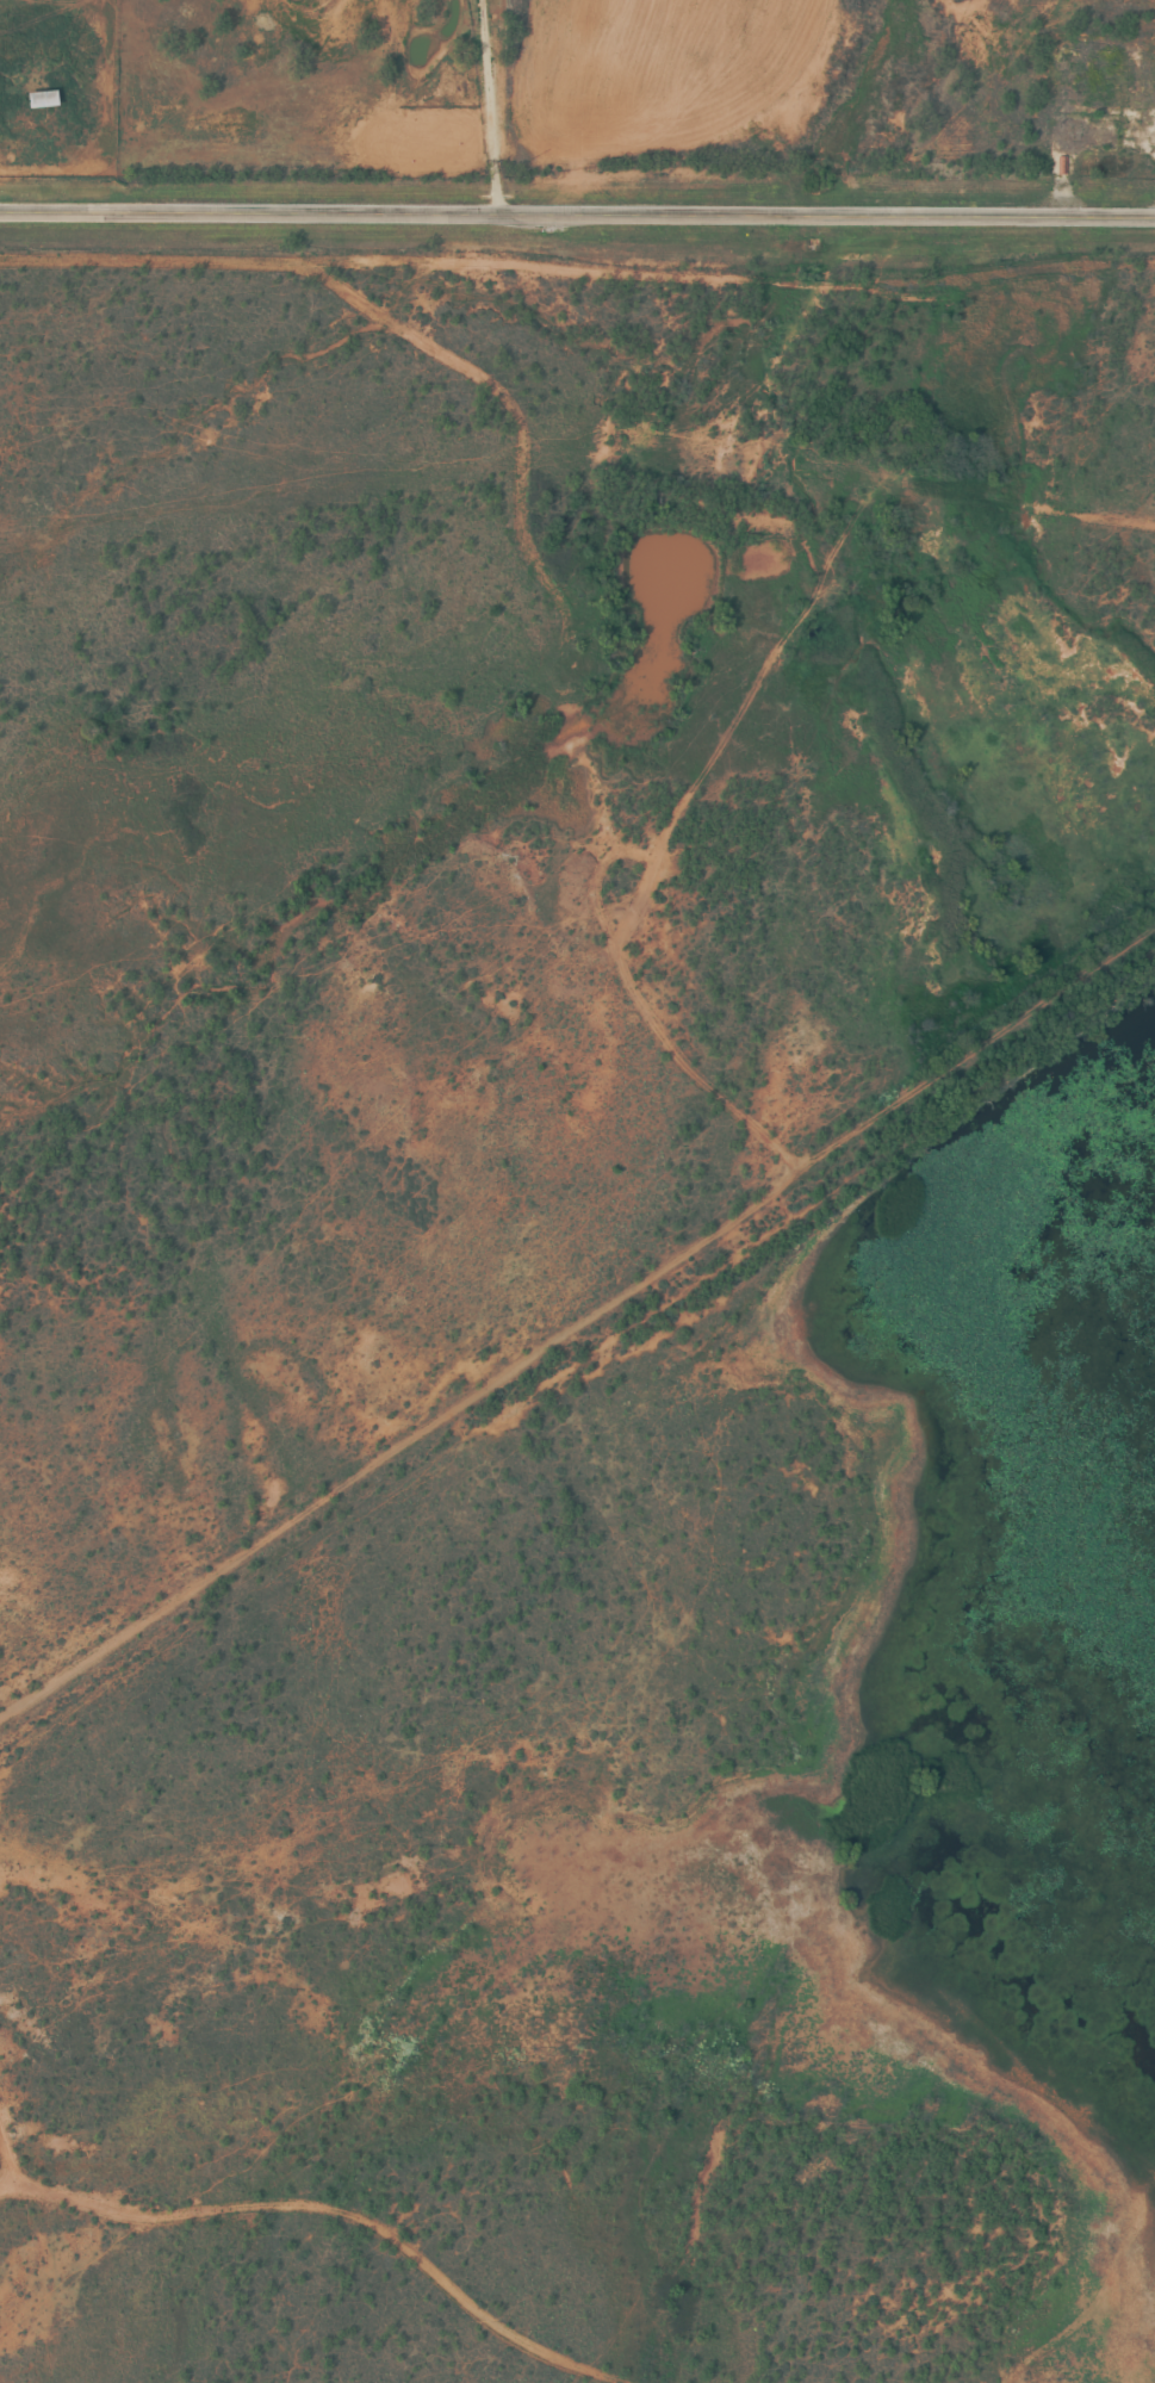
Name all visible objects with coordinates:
road: (489, 108)
road: (577, 218)
railway: (577, 1358)

